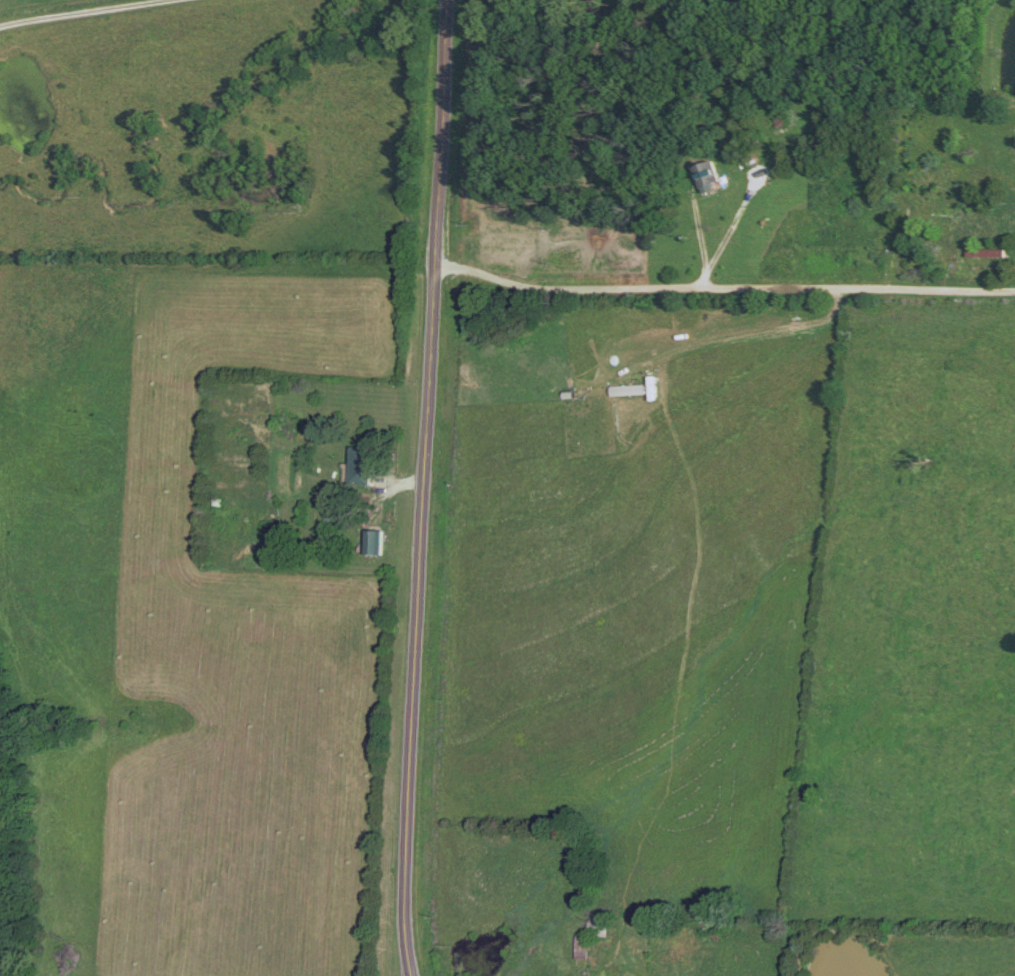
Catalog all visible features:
road: (92, 14)
building: (706, 175)
building: (921, 209)
building: (962, 215)
building: (984, 254)
road: (724, 290)
building: (356, 466)
road: (426, 488)
building: (371, 543)
building: (595, 928)
building: (579, 948)

